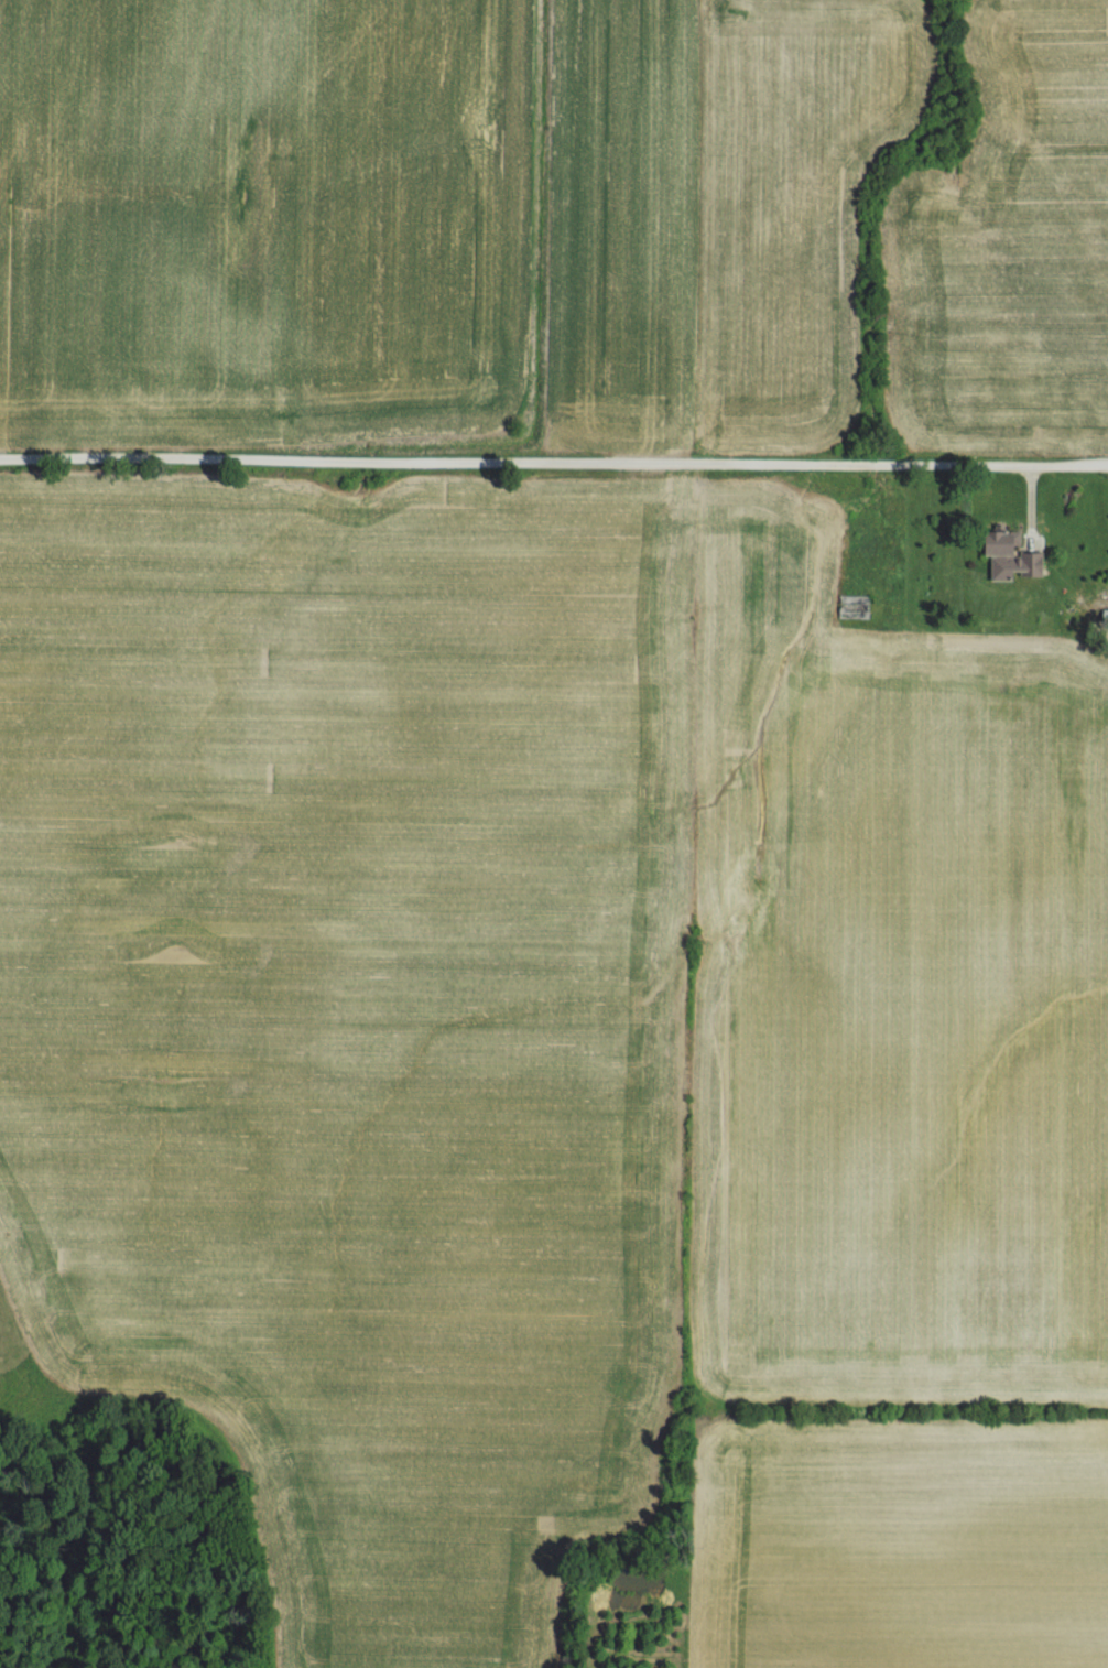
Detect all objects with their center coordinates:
road: (553, 463)
building: (996, 545)
building: (1098, 556)
building: (1099, 591)
building: (852, 608)

